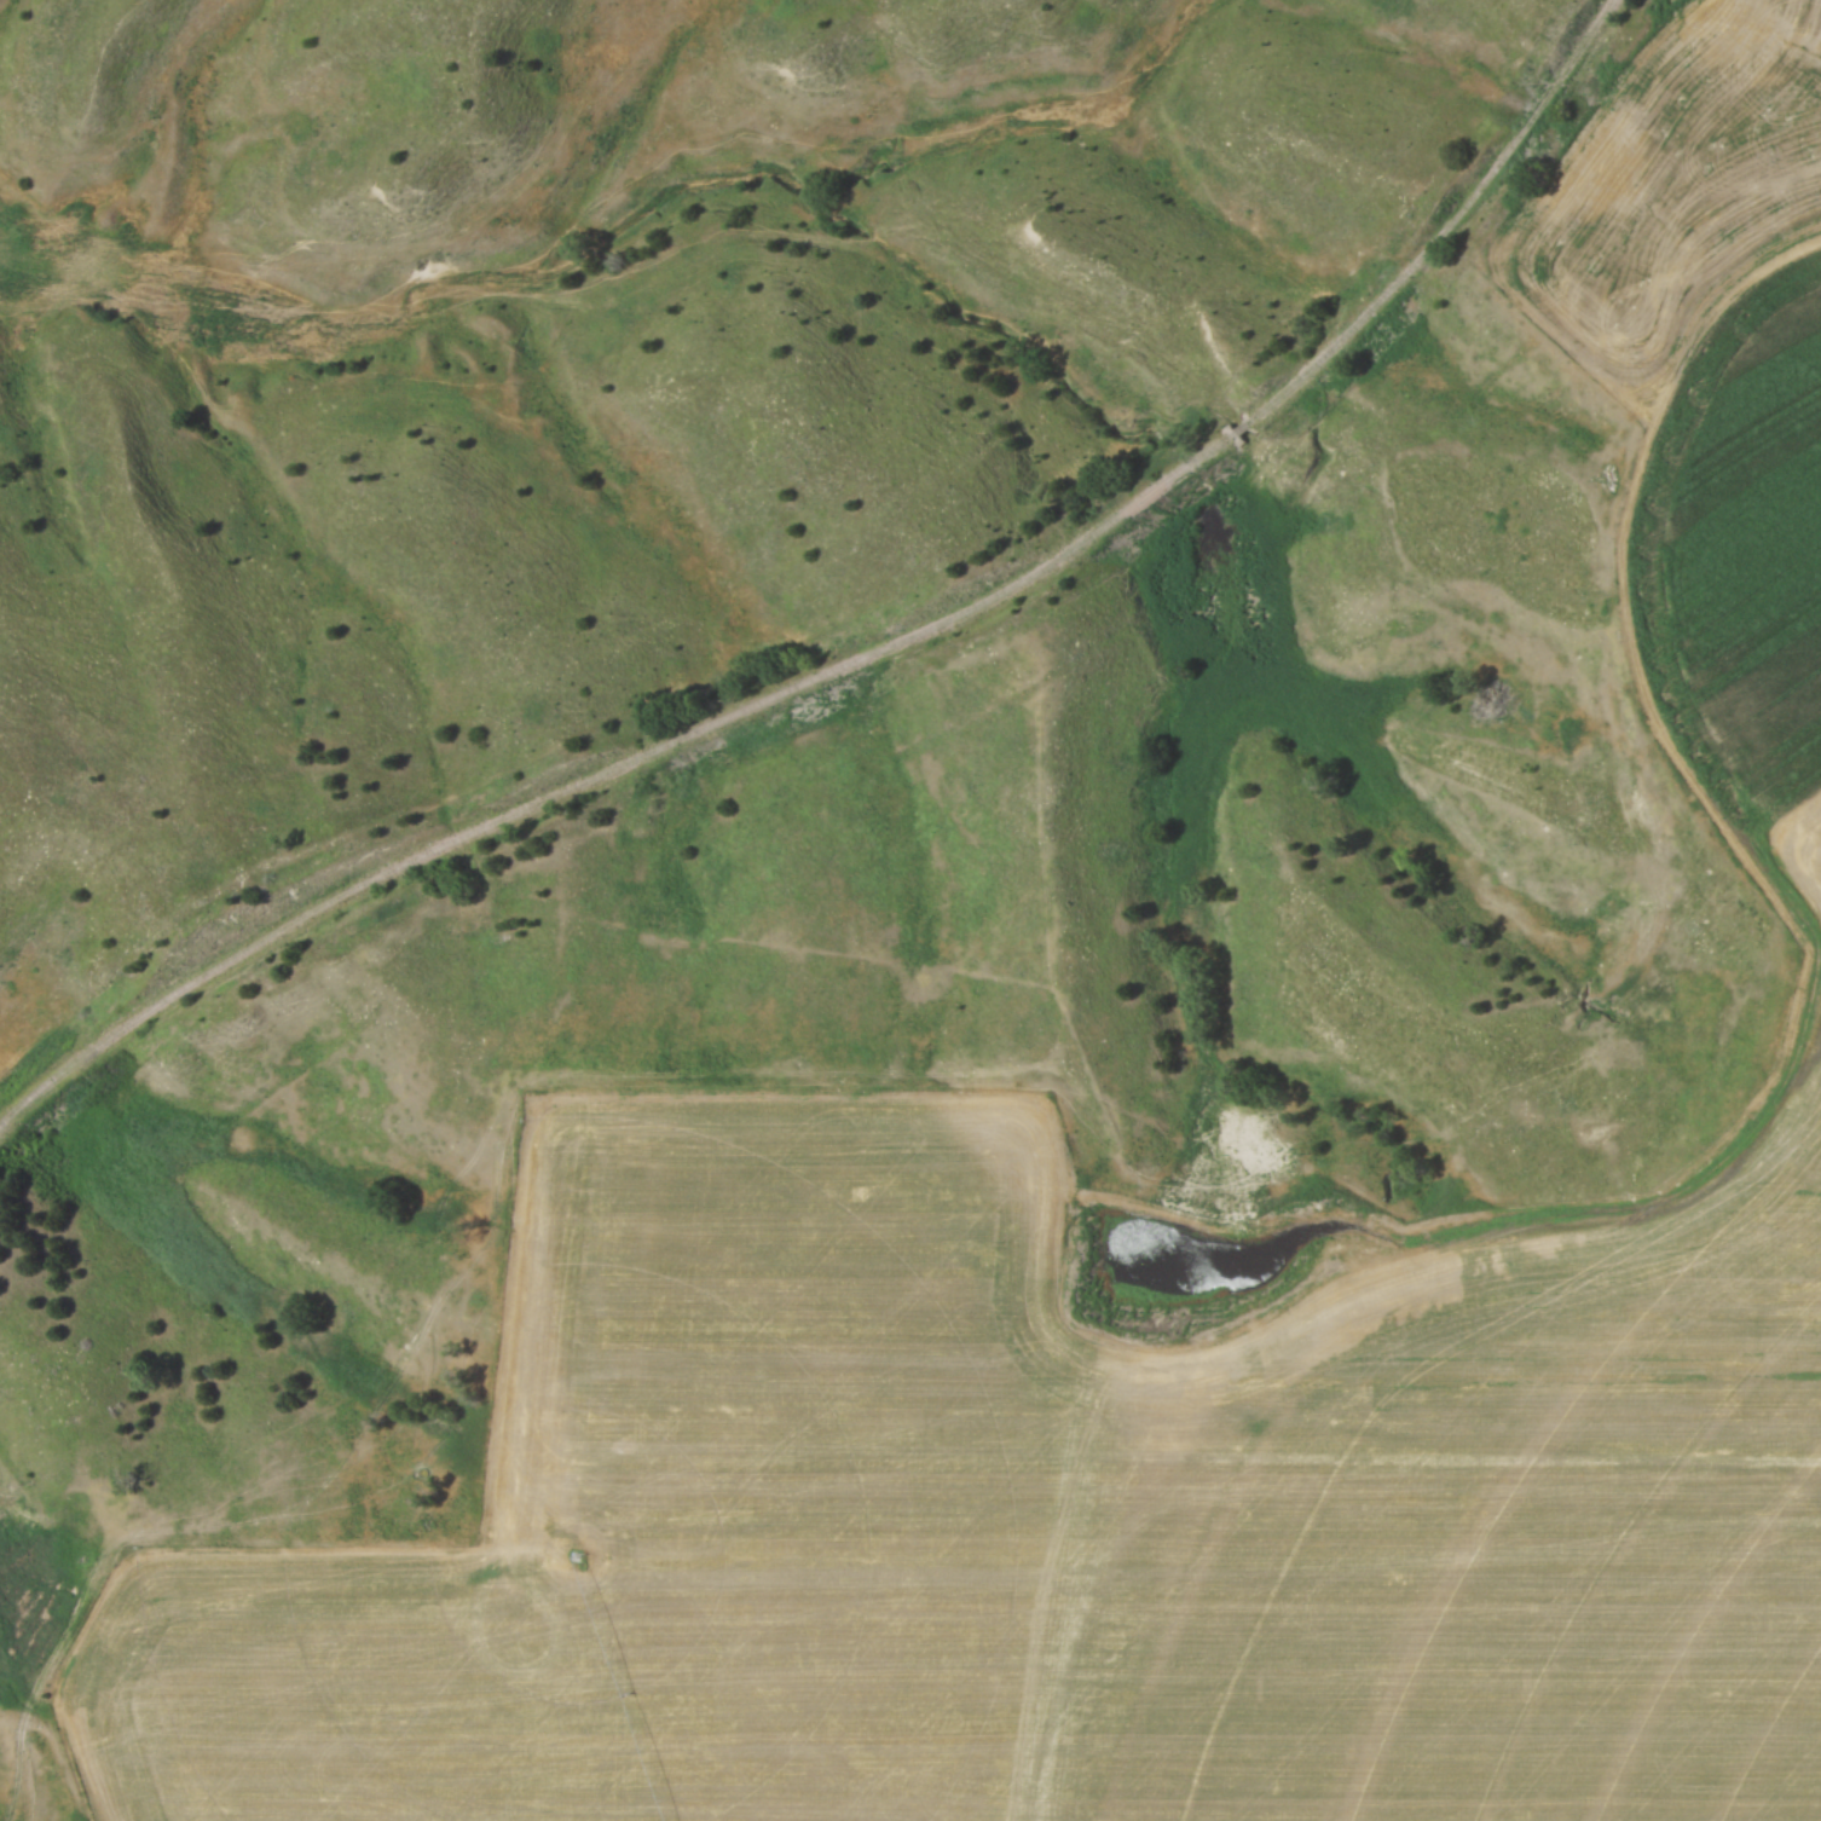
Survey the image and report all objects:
crop: (1678, 181)
railway: (869, 654)

